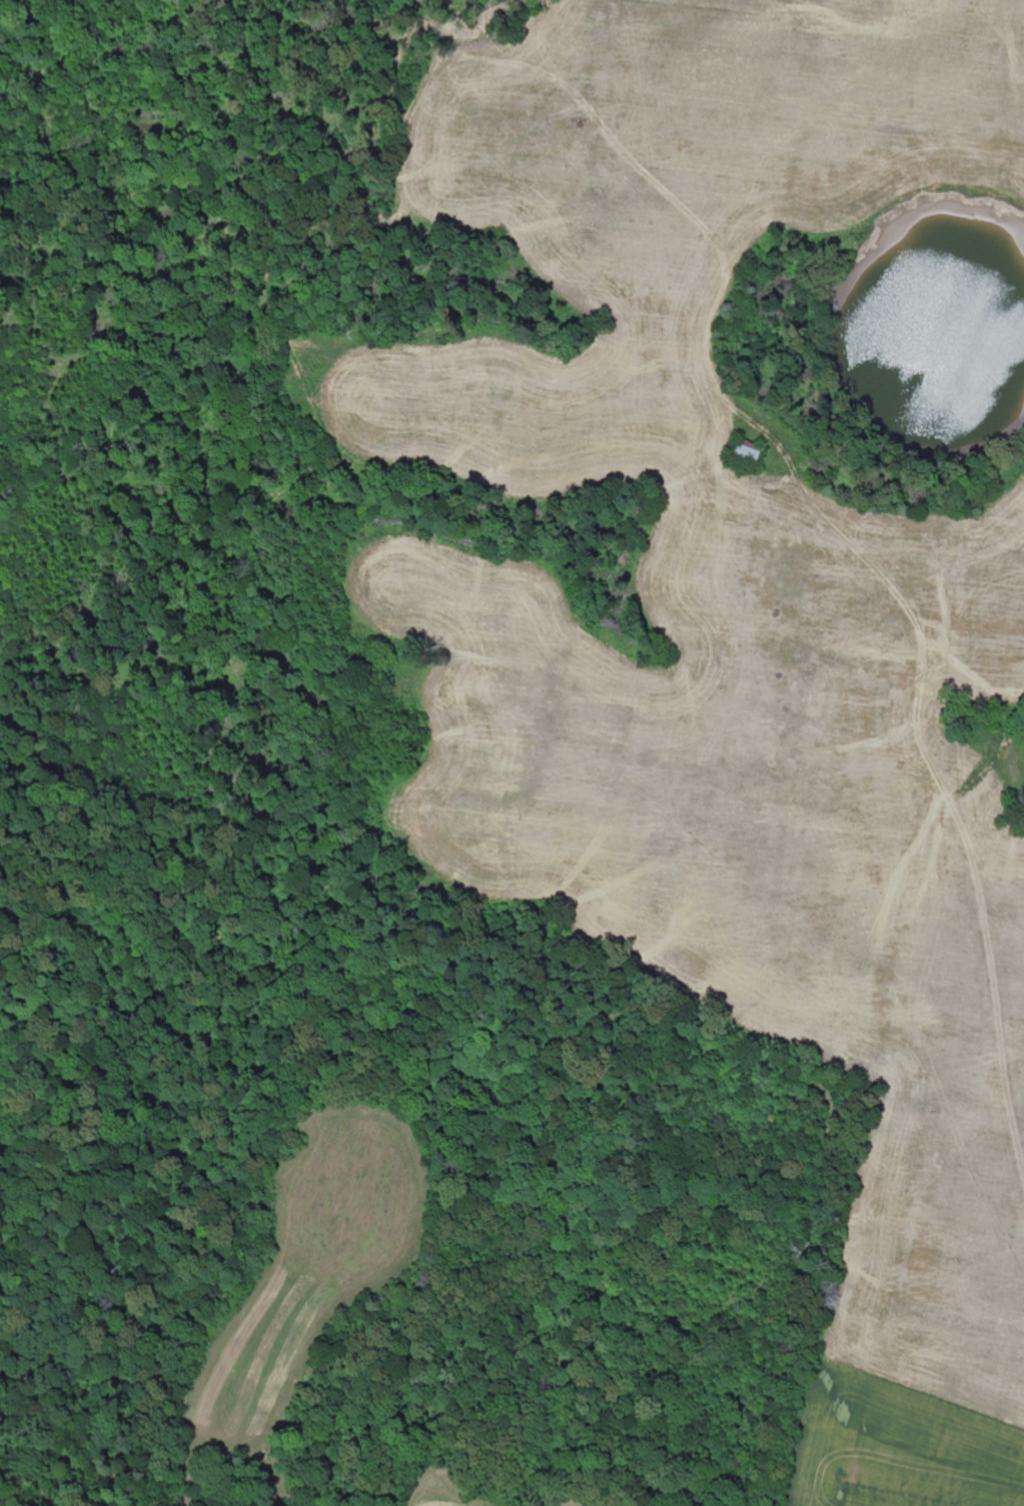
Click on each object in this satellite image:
building: (743, 449)

